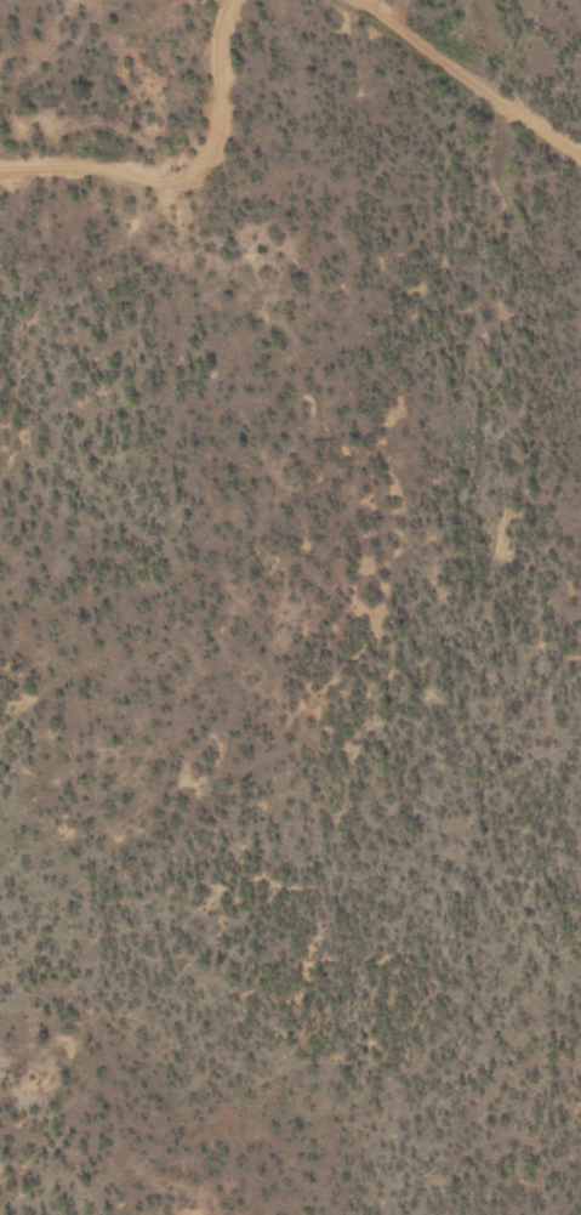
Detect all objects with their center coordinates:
road: (465, 76)
road: (186, 178)

